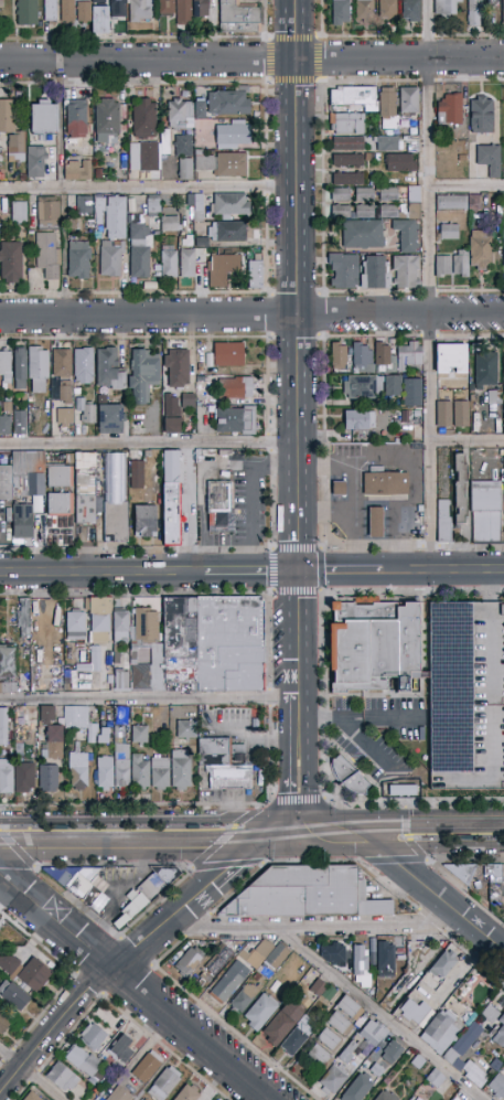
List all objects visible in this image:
building: (99, 1)
building: (492, 1)
building: (165, 8)
building: (446, 8)
building: (50, 10)
building: (364, 10)
building: (387, 10)
building: (410, 10)
building: (67, 11)
building: (140, 11)
building: (192, 11)
building: (26, 12)
building: (341, 12)
building: (473, 12)
building: (503, 12)
building: (90, 17)
building: (106, 17)
building: (238, 18)
road: (469, 34)
road: (352, 35)
road: (427, 35)
road: (251, 61)
building: (352, 96)
building: (409, 100)
building: (228, 103)
building: (387, 108)
building: (449, 109)
building: (184, 113)
building: (481, 114)
building: (43, 117)
building: (144, 118)
building: (76, 120)
building: (107, 120)
building: (347, 124)
building: (12, 130)
building: (233, 134)
building: (348, 143)
building: (389, 143)
building: (143, 156)
building: (184, 156)
building: (489, 159)
building: (347, 160)
building: (36, 162)
building: (400, 162)
building: (223, 163)
building: (77, 170)
building: (347, 179)
road: (467, 183)
road: (149, 189)
building: (388, 194)
building: (341, 195)
building: (365, 195)
building: (459, 202)
building: (85, 204)
building: (232, 204)
building: (153, 205)
building: (197, 207)
building: (353, 211)
building: (387, 211)
building: (19, 212)
building: (110, 216)
building: (409, 223)
building: (170, 224)
building: (228, 232)
building: (449, 232)
building: (363, 234)
building: (47, 237)
building: (503, 245)
building: (139, 246)
building: (468, 257)
building: (111, 258)
building: (78, 259)
building: (11, 263)
building: (187, 263)
building: (169, 264)
building: (223, 269)
building: (343, 271)
building: (255, 273)
building: (375, 273)
building: (406, 273)
road: (431, 285)
road: (148, 317)
road: (399, 317)
building: (228, 354)
building: (339, 355)
building: (398, 355)
building: (363, 357)
building: (451, 360)
building: (6, 365)
building: (503, 365)
building: (84, 366)
building: (21, 369)
building: (178, 369)
building: (485, 369)
building: (37, 370)
building: (108, 370)
building: (61, 374)
building: (143, 374)
building: (371, 386)
building: (239, 387)
building: (412, 393)
building: (493, 396)
building: (184, 399)
building: (85, 413)
building: (452, 414)
building: (172, 415)
building: (64, 416)
road: (299, 416)
building: (503, 416)
building: (111, 418)
building: (360, 419)
building: (17, 420)
building: (235, 420)
building: (3, 423)
road: (468, 437)
road: (150, 442)
building: (82, 458)
road: (290, 460)
building: (137, 474)
building: (58, 477)
building: (6, 482)
building: (385, 483)
building: (337, 489)
building: (461, 490)
building: (86, 496)
building: (116, 498)
building: (171, 498)
building: (58, 504)
building: (219, 506)
building: (485, 512)
building: (443, 515)
road: (356, 516)
building: (22, 521)
building: (144, 521)
building: (376, 522)
building: (503, 528)
road: (442, 570)
road: (341, 572)
road: (105, 573)
road: (256, 573)
traffic signals: (301, 573)
building: (24, 618)
building: (99, 620)
building: (120, 623)
building: (75, 626)
building: (146, 626)
building: (214, 644)
building: (374, 645)
building: (84, 647)
building: (133, 652)
building: (95, 655)
building: (7, 662)
building: (141, 677)
building: (121, 681)
building: (17, 685)
building: (468, 696)
road: (151, 697)
building: (21, 712)
building: (47, 714)
building: (122, 714)
road: (362, 715)
building: (18, 719)
building: (79, 722)
building: (3, 727)
building: (186, 729)
building: (139, 735)
building: (105, 736)
building: (18, 738)
building: (53, 743)
road: (365, 745)
building: (221, 752)
building: (78, 765)
building: (122, 766)
building: (181, 770)
building: (105, 772)
building: (140, 772)
building: (160, 773)
building: (348, 776)
building: (7, 777)
building: (24, 777)
building: (230, 777)
building: (49, 778)
building: (401, 788)
road: (423, 826)
traffic signals: (344, 830)
road: (323, 831)
railway: (115, 832)
railway: (251, 833)
traffic signals: (303, 833)
road: (287, 834)
railway: (458, 834)
traffic signals: (271, 836)
road: (136, 841)
railway: (251, 843)
building: (462, 872)
building: (494, 874)
building: (157, 882)
building: (87, 888)
road: (423, 889)
building: (305, 894)
building: (137, 896)
road: (310, 926)
building: (373, 951)
road: (124, 953)
building: (257, 954)
building: (334, 954)
building: (277, 955)
building: (218, 960)
building: (386, 960)
building: (190, 961)
building: (8, 964)
building: (350, 964)
building: (443, 964)
building: (361, 966)
building: (34, 974)
building: (204, 974)
building: (257, 976)
building: (472, 981)
building: (229, 982)
building: (275, 986)
building: (319, 987)
road: (136, 989)
building: (420, 993)
building: (330, 994)
building: (13, 995)
building: (246, 997)
building: (350, 1008)
building: (415, 1011)
building: (261, 1012)
building: (490, 1014)
road: (376, 1016)
building: (471, 1018)
building: (4, 1022)
building: (440, 1022)
building: (281, 1024)
building: (340, 1024)
building: (373, 1033)
building: (500, 1034)
building: (297, 1037)
building: (95, 1038)
building: (330, 1039)
building: (354, 1048)
building: (120, 1049)
building: (392, 1051)
building: (457, 1051)
building: (321, 1057)
building: (345, 1057)
building: (85, 1062)
building: (148, 1066)
building: (495, 1066)
building: (376, 1070)
road: (32, 1072)
building: (62, 1077)
building: (333, 1079)
building: (164, 1083)
building: (497, 1086)
building: (358, 1088)
building: (187, 1093)
building: (120, 1094)
building: (32, 1096)
building: (386, 1096)
building: (141, 1099)
building: (146, 1099)

